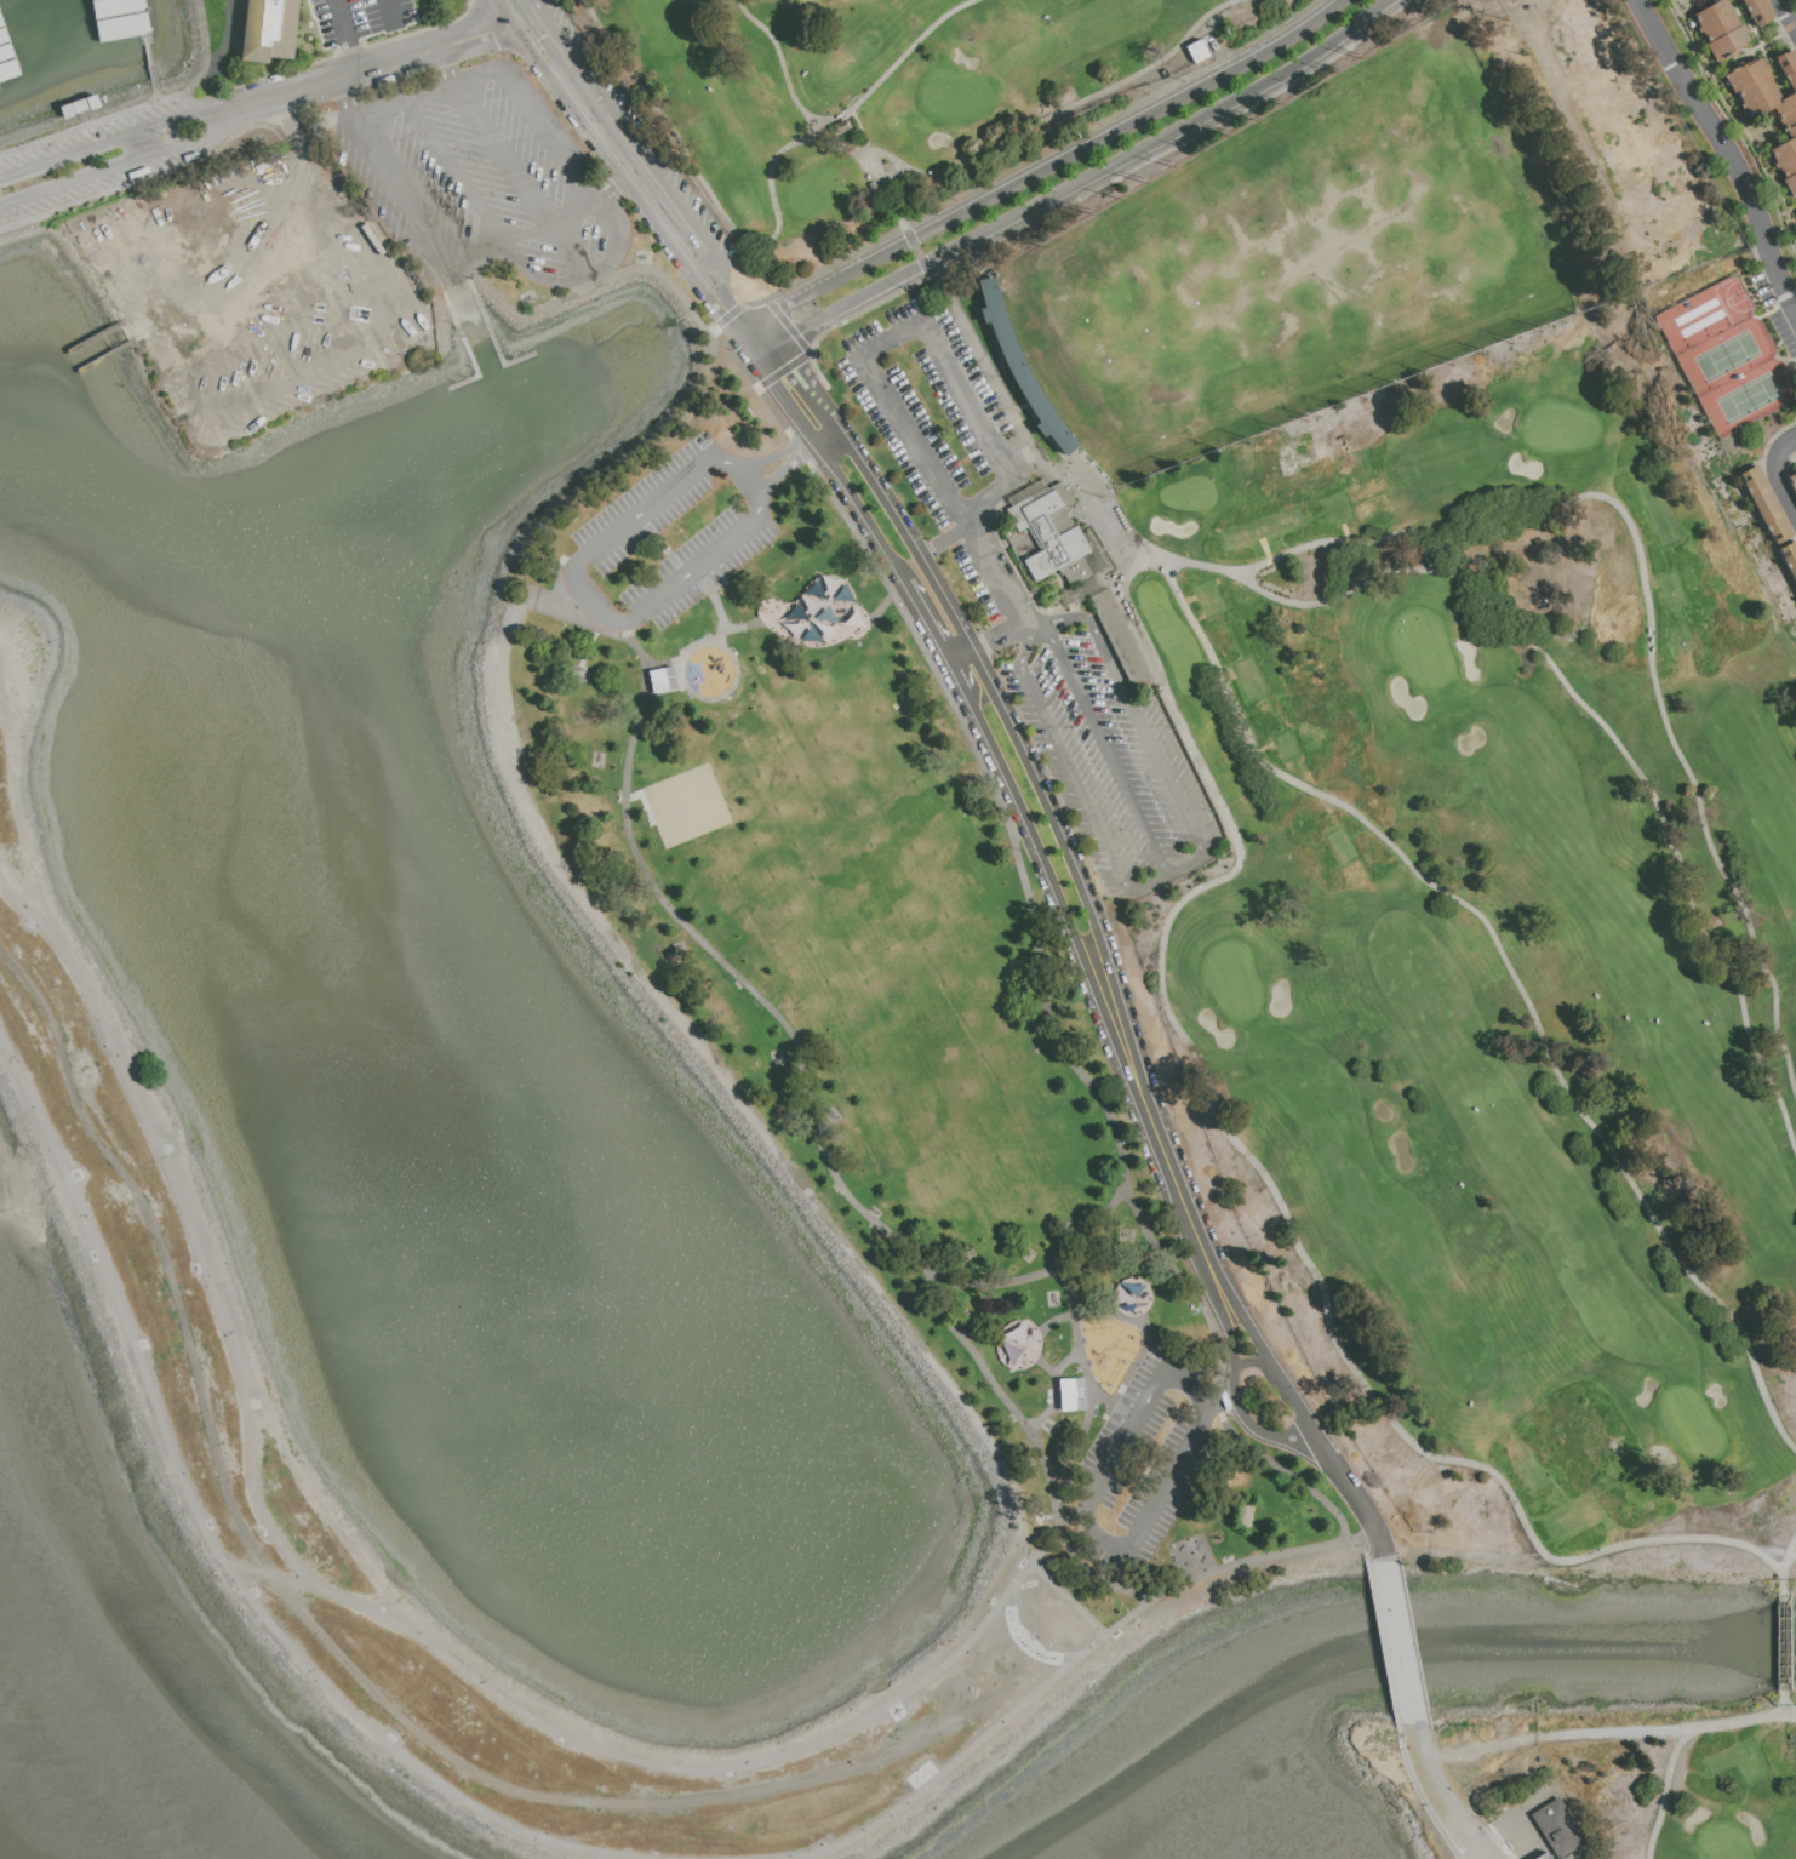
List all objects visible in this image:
building: (1791, 0)
road: (387, 11)
building: (1757, 11)
road: (1786, 18)
road: (342, 24)
building: (1720, 29)
building: (270, 30)
pier: (144, 38)
building: (1197, 51)
road: (400, 57)
road: (351, 59)
road: (154, 88)
road: (262, 99)
building: (1771, 105)
building: (80, 107)
road: (139, 107)
road: (620, 122)
road: (378, 141)
road: (554, 148)
road: (1726, 154)
road: (620, 167)
road: (1046, 168)
road: (155, 176)
road: (1077, 181)
road: (610, 188)
road: (519, 234)
road: (713, 264)
road: (658, 278)
road: (567, 286)
road: (911, 330)
road: (753, 339)
building: (1019, 367)
road: (202, 407)
park: (1560, 428)
road: (808, 429)
road: (817, 441)
road: (797, 448)
road: (1773, 469)
road: (614, 470)
building: (1792, 482)
road: (1080, 485)
park: (1189, 494)
building: (1766, 504)
road: (950, 537)
parking lot: (660, 547)
road: (925, 550)
building: (1789, 557)
building: (1075, 567)
road: (994, 573)
road: (584, 600)
road: (580, 622)
road: (739, 628)
road: (1003, 630)
park: (1422, 650)
road: (966, 652)
road: (660, 665)
park: (1355, 674)
building: (662, 679)
road: (680, 680)
road: (995, 697)
road: (970, 709)
road: (1140, 726)
park: (686, 808)
road: (1146, 885)
road: (4, 898)
park: (1231, 982)
park: (926, 1100)
road: (1162, 1166)
road: (191, 1234)
road: (1073, 1252)
road: (1185, 1292)
road: (1213, 1305)
road: (1249, 1332)
road: (1076, 1343)
road: (1248, 1362)
building: (1070, 1394)
road: (1216, 1405)
road: (1023, 1425)
park: (1689, 1425)
road: (1251, 1429)
road: (988, 1441)
parking lot: (1138, 1469)
road: (1283, 1470)
road: (1343, 1481)
road: (1081, 1521)
road: (208, 1538)
road: (1209, 1572)
road: (1092, 1575)
road: (1068, 1598)
road: (1781, 1642)
road: (342, 1658)
road: (978, 1668)
park: (1678, 1783)
road: (691, 1823)
building: (1556, 1827)
road: (1464, 1838)
park: (1721, 1843)
building: (1542, 1855)

